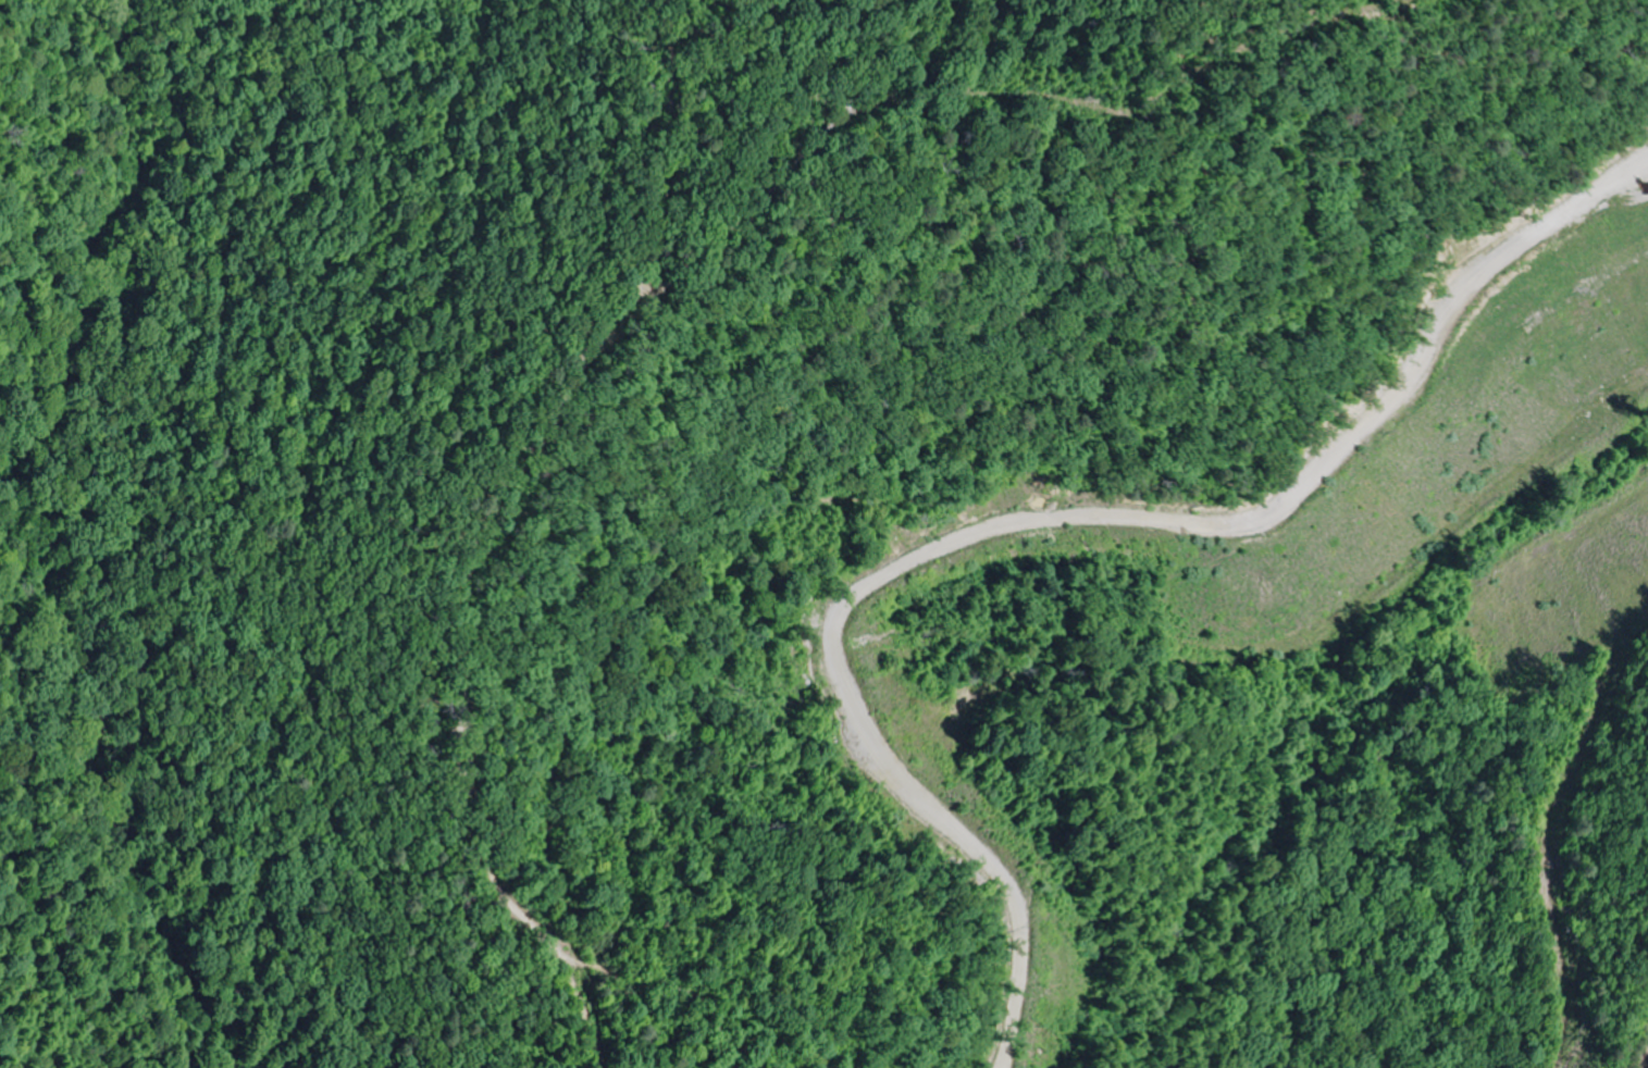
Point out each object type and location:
road: (914, 473)
road: (501, 518)

